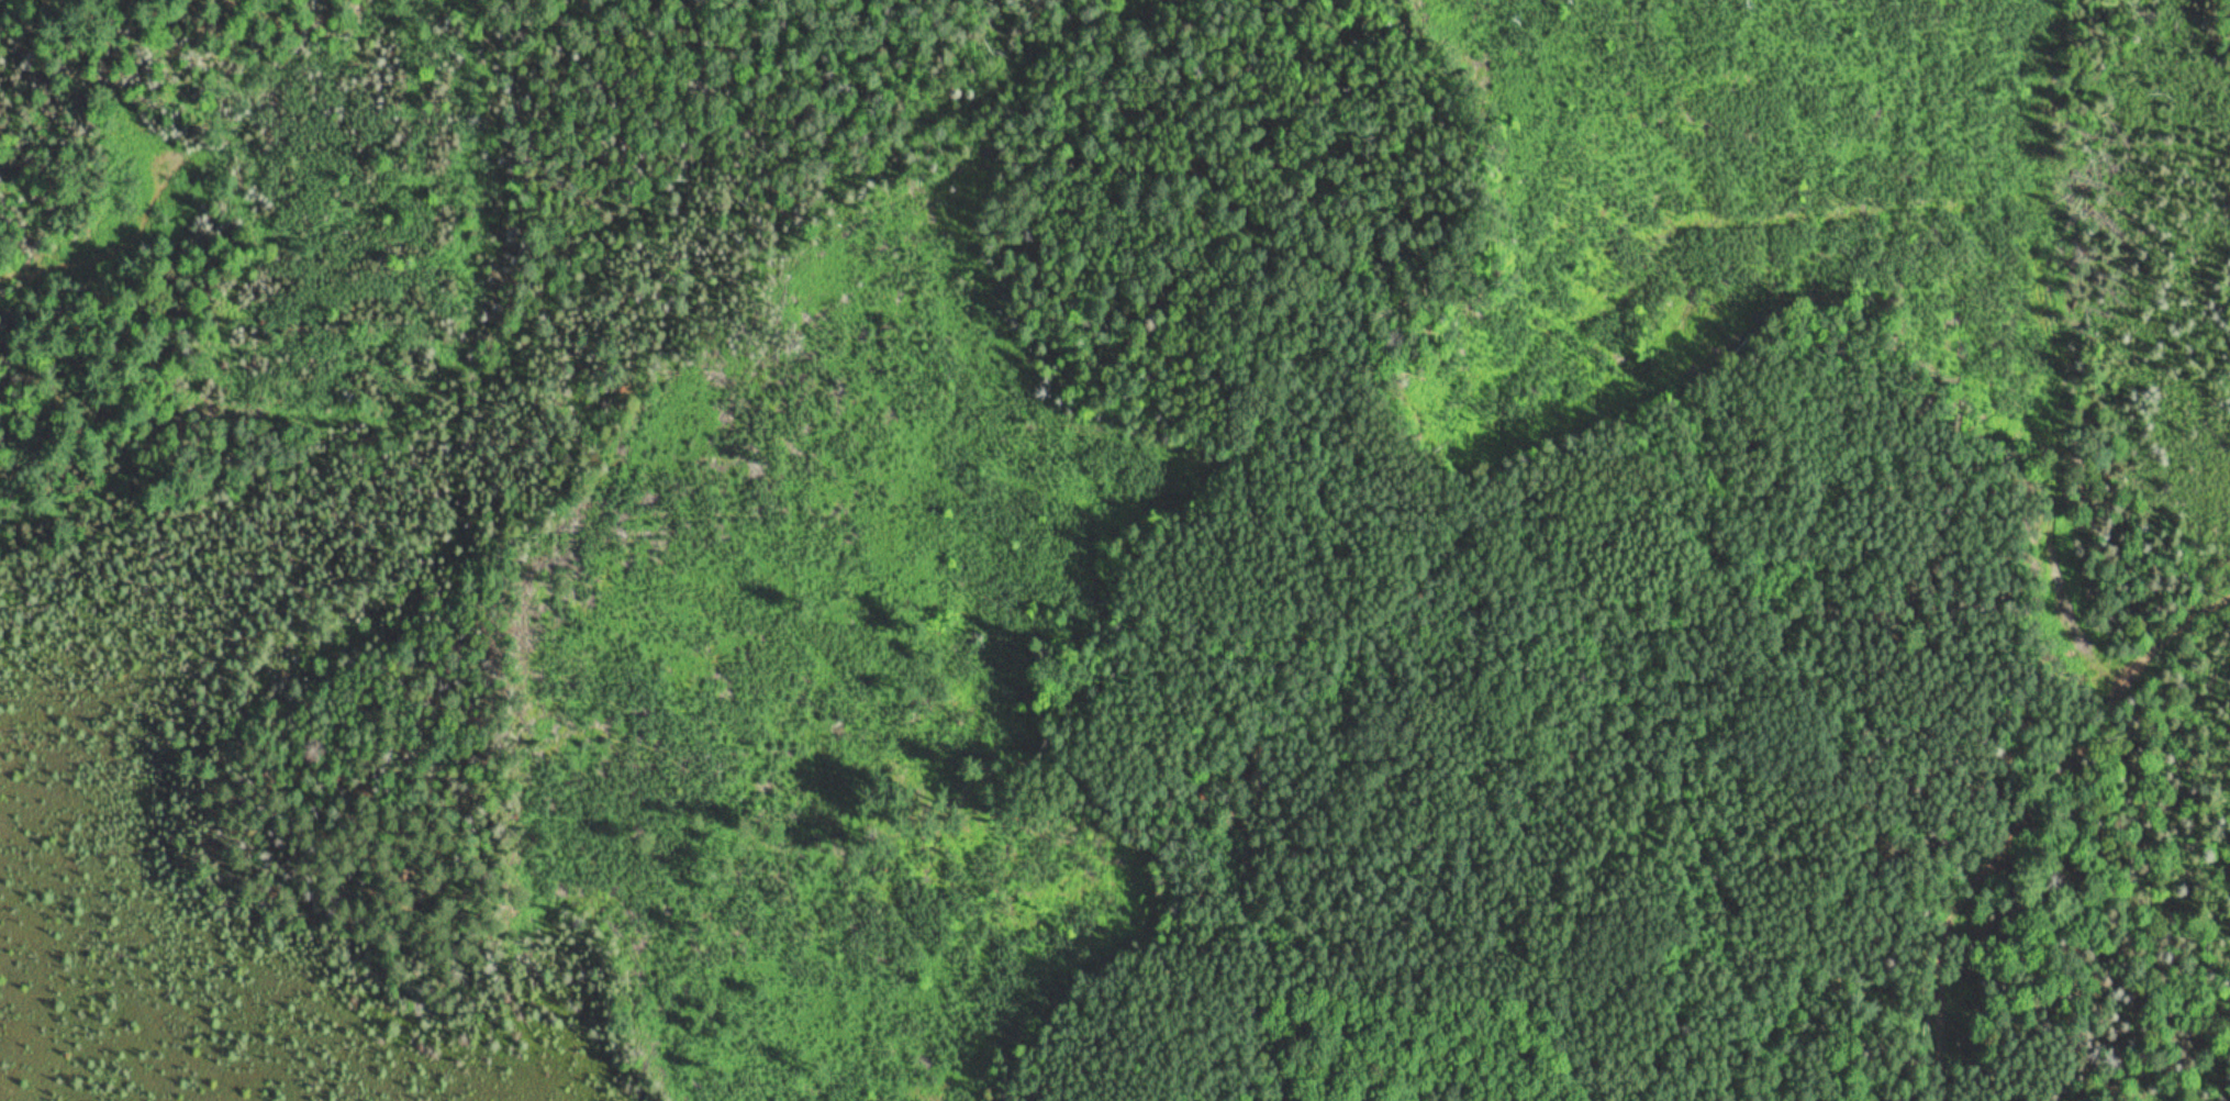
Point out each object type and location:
road: (2026, 844)

